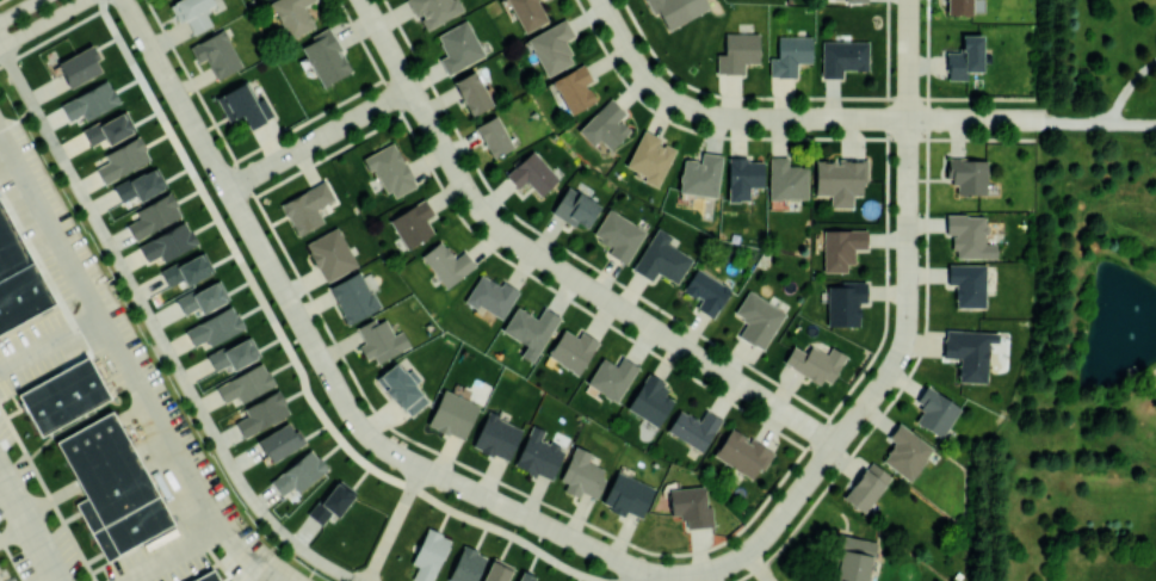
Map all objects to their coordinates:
building: (855, 0)
building: (959, 6)
building: (676, 8)
building: (434, 10)
road: (19, 11)
building: (192, 12)
building: (527, 13)
building: (291, 16)
road: (42, 23)
building: (458, 45)
building: (551, 45)
building: (737, 51)
building: (216, 52)
building: (790, 54)
building: (324, 56)
building: (842, 56)
building: (965, 57)
road: (638, 64)
building: (79, 66)
building: (574, 87)
road: (1127, 87)
building: (472, 92)
building: (89, 100)
building: (240, 105)
road: (870, 118)
road: (1078, 120)
road: (1133, 122)
building: (605, 124)
building: (109, 129)
building: (494, 136)
road: (316, 138)
building: (649, 157)
building: (122, 159)
building: (389, 169)
building: (532, 173)
building: (700, 174)
building: (968, 174)
building: (742, 177)
building: (785, 179)
building: (840, 179)
road: (908, 179)
building: (140, 184)
building: (575, 206)
building: (305, 208)
building: (153, 215)
building: (413, 223)
building: (618, 234)
building: (969, 235)
building: (168, 242)
building: (841, 247)
building: (330, 254)
building: (661, 258)
building: (446, 262)
road: (550, 265)
building: (187, 270)
building: (19, 282)
building: (968, 284)
building: (705, 291)
building: (490, 295)
building: (202, 297)
building: (353, 297)
building: (845, 302)
park: (351, 303)
building: (758, 319)
building: (215, 327)
building: (530, 329)
road: (157, 332)
road: (49, 338)
building: (379, 339)
road: (290, 350)
building: (571, 350)
road: (315, 351)
building: (969, 352)
building: (233, 354)
building: (815, 361)
road: (130, 370)
building: (611, 376)
building: (246, 383)
building: (401, 388)
building: (61, 398)
building: (649, 400)
building: (935, 410)
building: (261, 413)
building: (452, 414)
building: (693, 427)
building: (496, 435)
building: (280, 440)
building: (905, 451)
building: (742, 452)
building: (538, 453)
building: (299, 472)
building: (581, 474)
building: (866, 486)
building: (111, 489)
building: (626, 494)
building: (330, 501)
road: (787, 502)
building: (690, 506)
road: (394, 524)
road: (29, 526)
road: (171, 554)
building: (428, 554)
building: (853, 560)
building: (465, 565)
road: (756, 567)
building: (496, 570)
road: (628, 575)
road: (633, 575)
road: (638, 575)
building: (525, 576)
road: (1, 577)
building: (204, 577)

